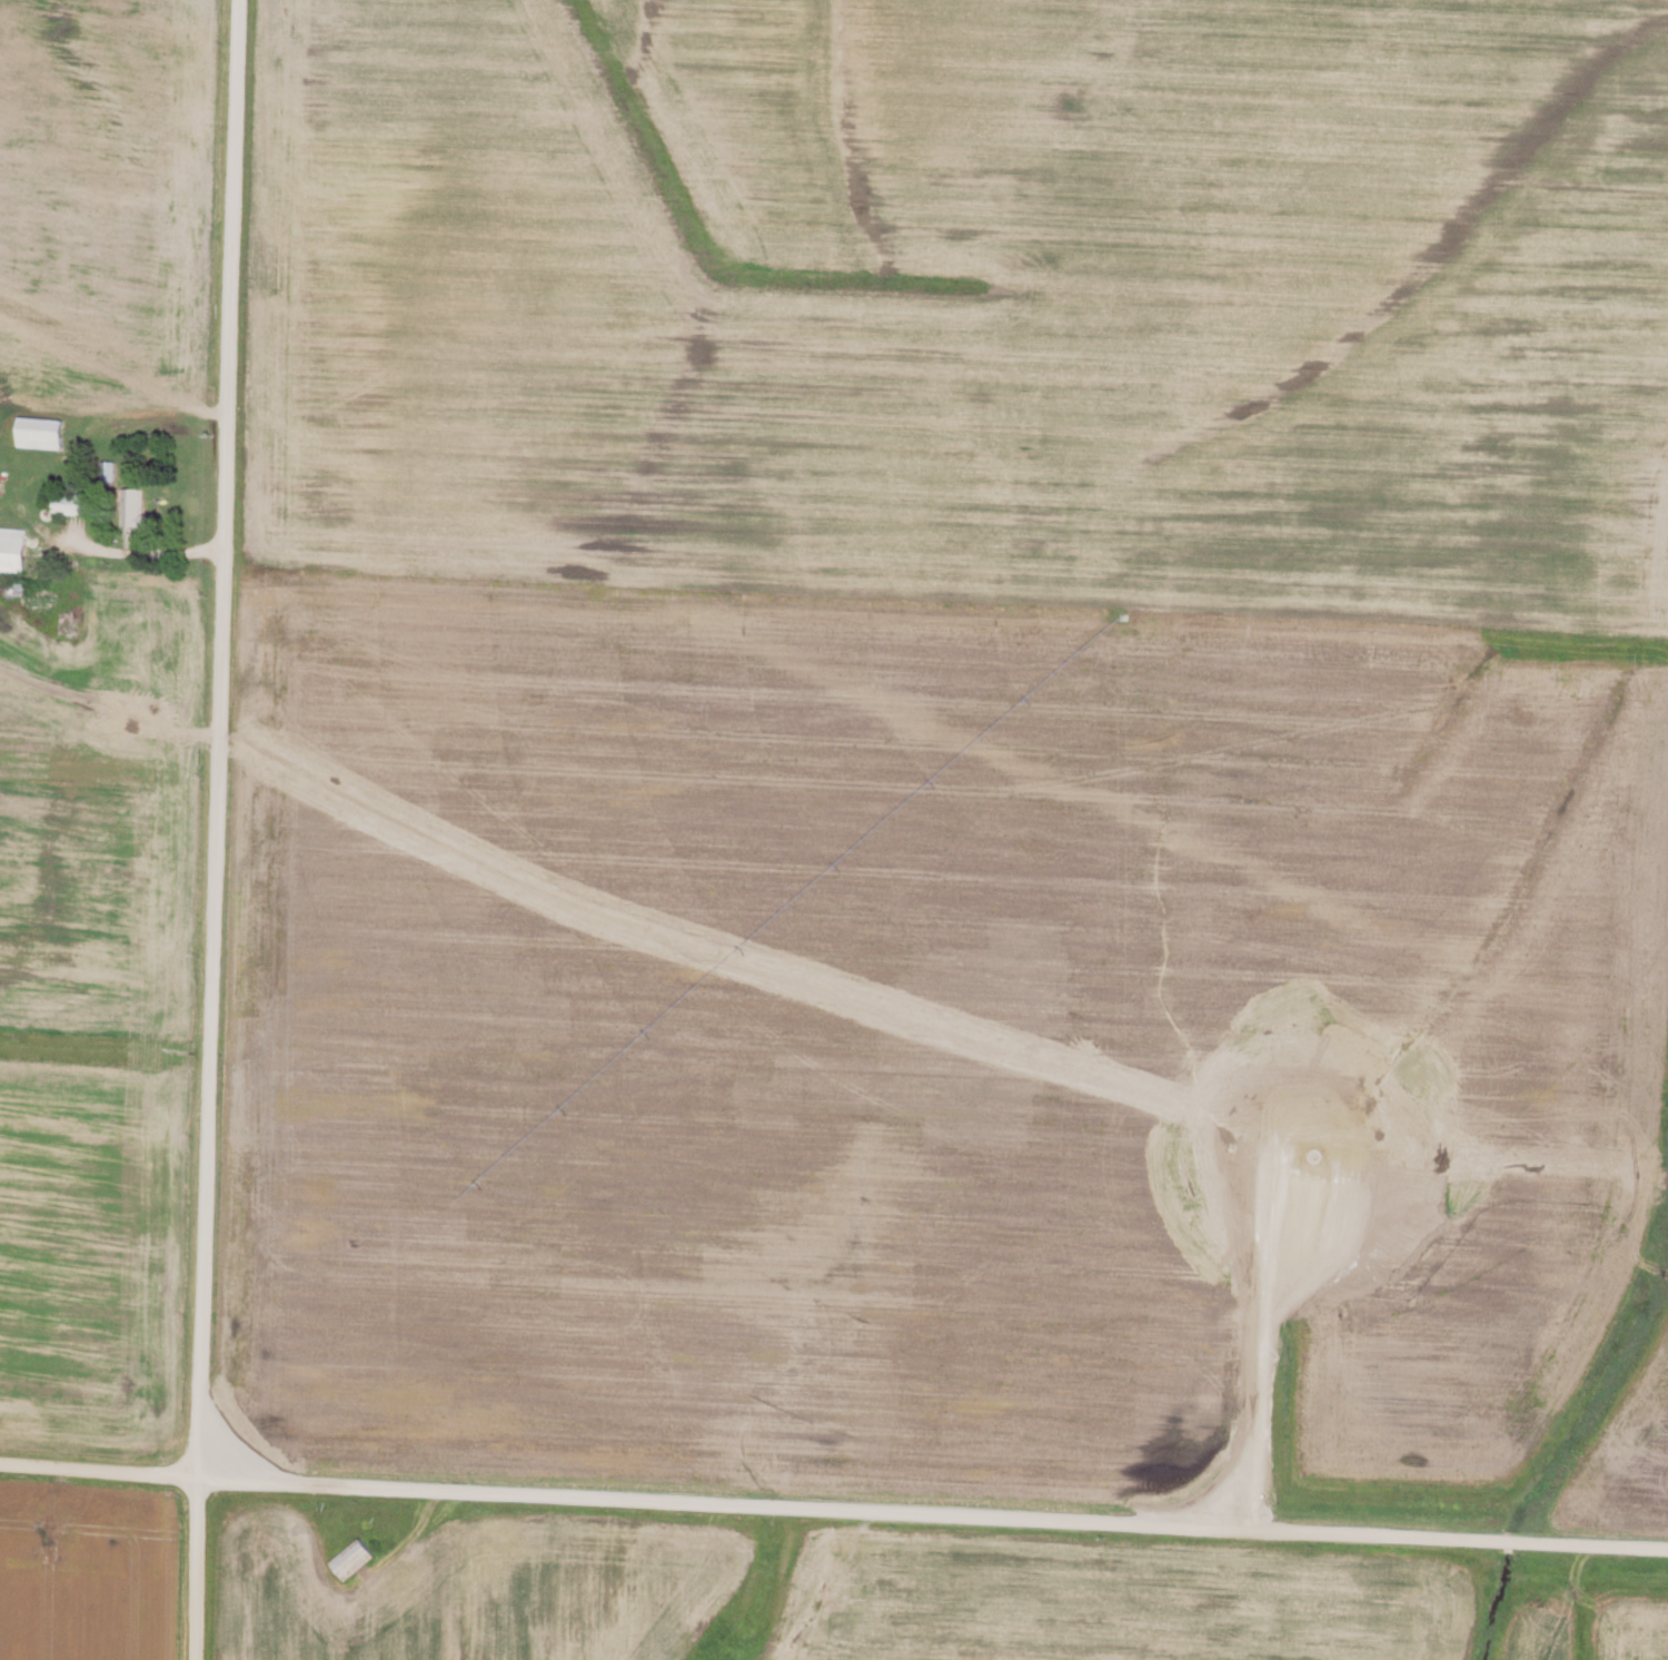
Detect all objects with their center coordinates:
building: (42, 431)
building: (1, 480)
building: (76, 501)
building: (136, 505)
road: (136, 545)
building: (13, 546)
road: (217, 829)
wind turbine: (1315, 1167)
road: (833, 1506)

